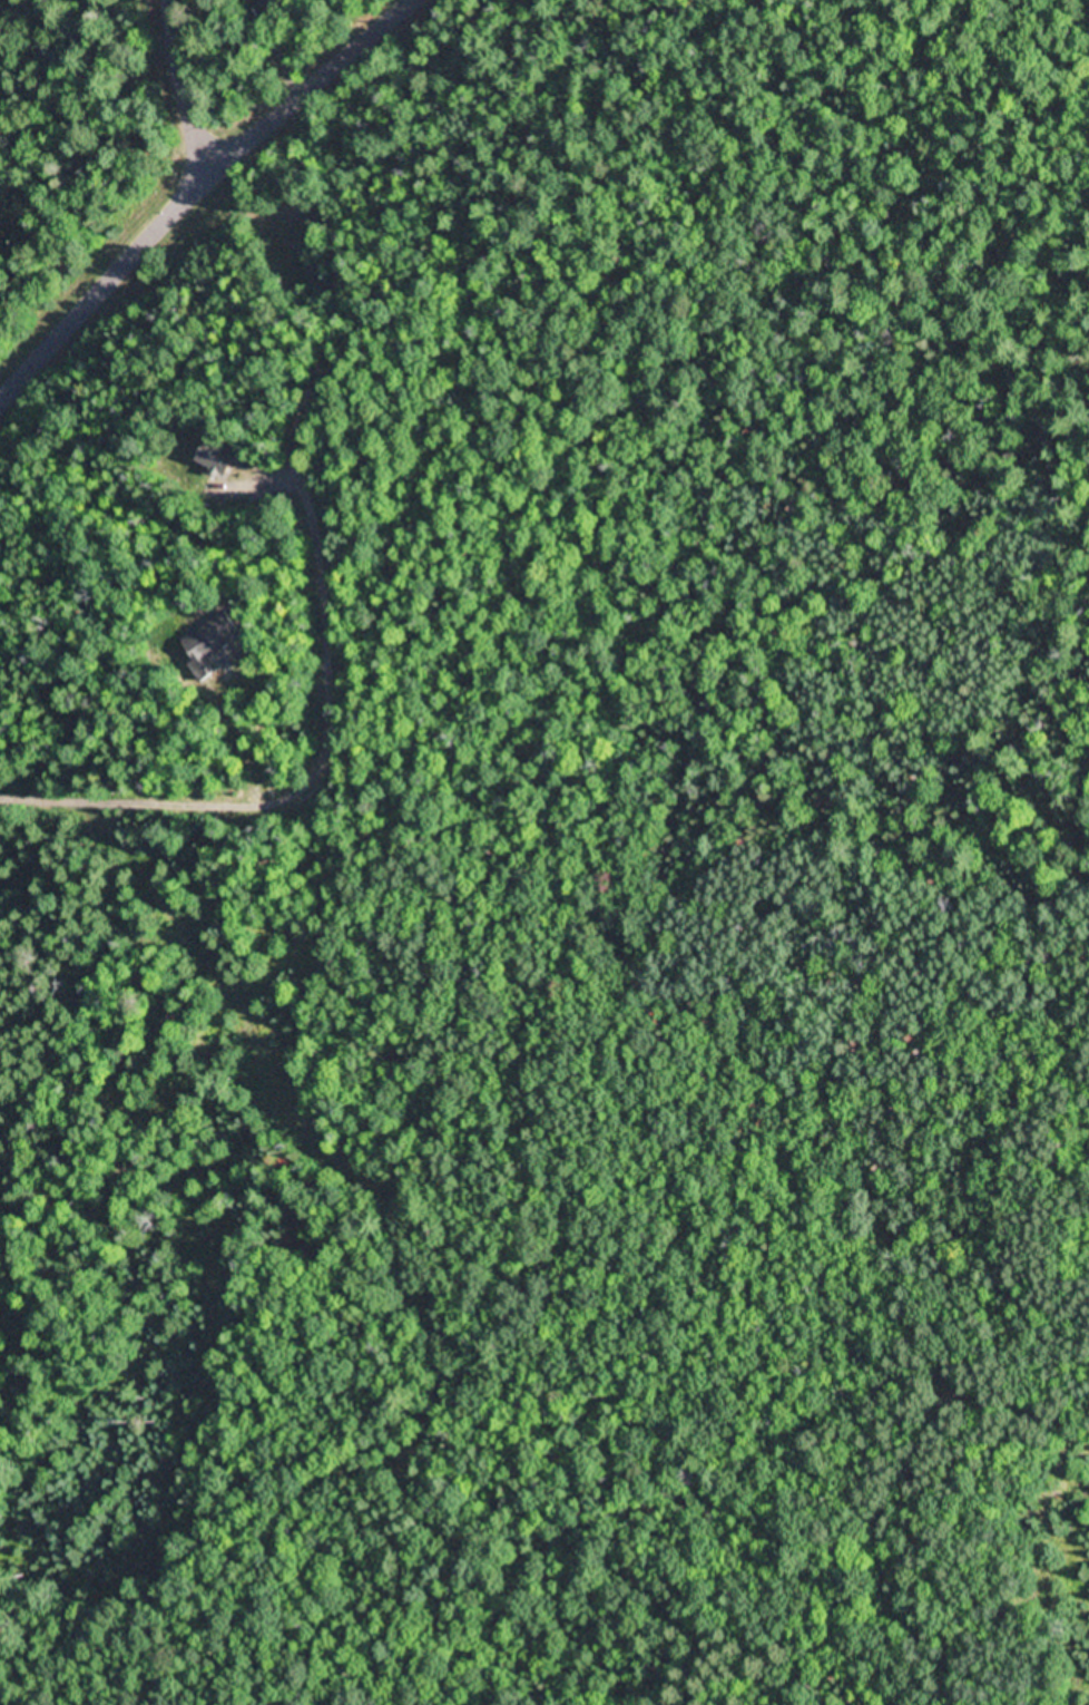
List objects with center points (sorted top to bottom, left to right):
road: (186, 87)
road: (192, 191)
building: (220, 459)
building: (209, 646)
road: (266, 669)

